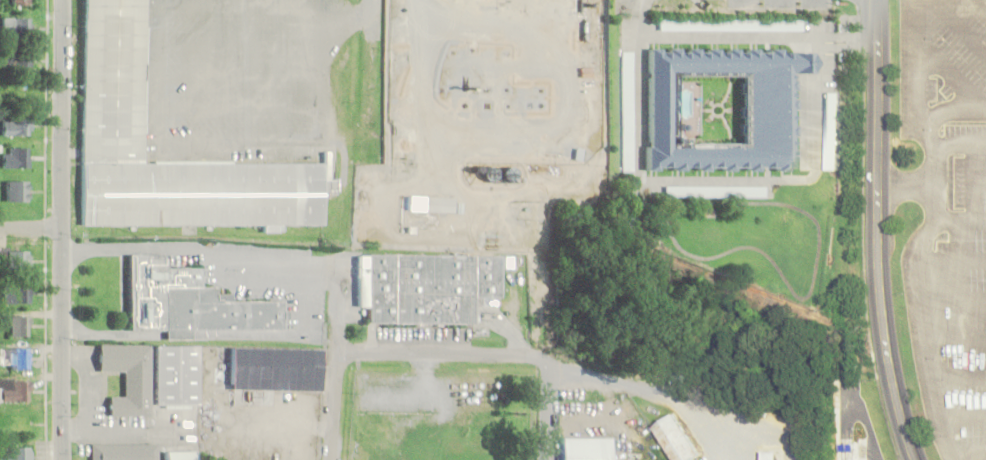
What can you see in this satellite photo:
building: (19, 2)
parking lot: (746, 3)
parking lot: (783, 4)
parking lot: (819, 4)
road: (268, 10)
road: (312, 11)
road: (375, 19)
building: (732, 25)
road: (959, 26)
building: (14, 27)
road: (845, 37)
road: (242, 46)
road: (846, 48)
building: (16, 60)
parking lot: (941, 63)
road: (917, 67)
road: (952, 74)
parking lot: (244, 77)
road: (243, 80)
building: (113, 81)
road: (370, 104)
road: (641, 106)
road: (816, 108)
road: (244, 109)
building: (630, 112)
building: (767, 117)
building: (15, 126)
building: (831, 130)
road: (955, 143)
road: (213, 145)
building: (17, 157)
building: (489, 174)
road: (978, 176)
road: (982, 179)
road: (908, 188)
building: (17, 191)
building: (205, 194)
building: (431, 204)
road: (962, 218)
road: (31, 229)
road: (62, 230)
road: (877, 232)
building: (20, 260)
road: (916, 261)
road: (951, 261)
building: (426, 286)
road: (807, 292)
building: (17, 293)
parking lot: (965, 296)
road: (952, 299)
building: (191, 303)
building: (20, 325)
road: (955, 338)
road: (440, 355)
building: (15, 358)
building: (278, 369)
building: (178, 376)
building: (129, 377)
road: (959, 378)
building: (15, 390)
road: (335, 407)
road: (547, 409)
road: (963, 416)
road: (842, 422)
road: (869, 430)
building: (675, 438)
building: (587, 448)
building: (124, 451)
building: (14, 453)
building: (180, 455)
building: (633, 456)
building: (768, 456)
road: (969, 458)

